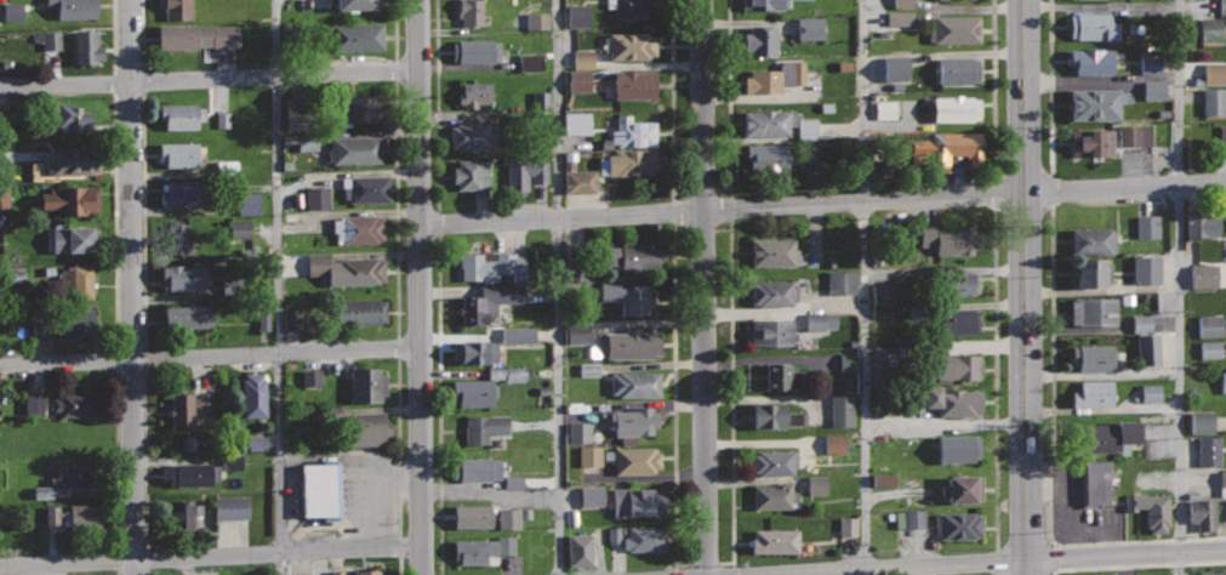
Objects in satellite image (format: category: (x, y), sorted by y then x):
building: (359, 4)
building: (762, 4)
building: (902, 4)
building: (1222, 6)
building: (177, 7)
building: (632, 7)
building: (76, 8)
building: (471, 11)
building: (12, 12)
building: (577, 16)
building: (900, 18)
building: (536, 22)
building: (1093, 25)
building: (956, 28)
road: (394, 29)
building: (810, 29)
building: (1210, 29)
road: (141, 34)
building: (199, 34)
road: (113, 35)
building: (358, 35)
building: (47, 40)
building: (762, 40)
building: (629, 45)
building: (87, 46)
building: (477, 50)
building: (582, 59)
building: (1093, 59)
building: (530, 62)
building: (1150, 64)
building: (895, 69)
building: (959, 70)
building: (1214, 73)
building: (776, 76)
road: (207, 79)
building: (578, 81)
building: (635, 84)
road: (1050, 86)
road: (991, 87)
building: (1153, 90)
building: (474, 93)
road: (729, 97)
road: (671, 99)
building: (541, 101)
building: (1214, 102)
building: (1095, 104)
road: (437, 106)
building: (357, 107)
building: (957, 108)
building: (300, 109)
building: (885, 110)
building: (179, 114)
building: (73, 118)
building: (222, 120)
building: (777, 123)
building: (576, 124)
building: (633, 132)
building: (1222, 135)
building: (473, 136)
building: (1133, 136)
building: (1090, 142)
building: (307, 143)
building: (355, 148)
building: (952, 149)
building: (179, 152)
building: (768, 156)
building: (74, 159)
building: (628, 161)
building: (226, 167)
building: (472, 173)
building: (525, 175)
building: (578, 182)
building: (366, 188)
building: (186, 193)
building: (4, 198)
building: (317, 198)
building: (73, 199)
road: (821, 203)
building: (247, 204)
road: (394, 207)
road: (115, 220)
road: (144, 220)
building: (1147, 227)
building: (1202, 227)
building: (358, 228)
building: (239, 230)
building: (175, 237)
building: (73, 238)
building: (950, 239)
building: (1093, 240)
building: (775, 252)
building: (634, 256)
building: (492, 264)
building: (346, 268)
building: (1146, 269)
building: (1093, 272)
building: (13, 274)
building: (182, 275)
road: (280, 275)
building: (1203, 277)
building: (76, 280)
building: (963, 281)
building: (840, 283)
road: (129, 286)
road: (417, 286)
road: (867, 286)
road: (1026, 286)
road: (559, 287)
road: (705, 287)
road: (1179, 287)
building: (774, 291)
building: (883, 294)
building: (625, 296)
building: (489, 301)
building: (1094, 311)
building: (358, 312)
building: (187, 318)
building: (291, 320)
building: (960, 320)
building: (262, 321)
building: (821, 321)
building: (80, 323)
building: (1141, 324)
building: (1209, 326)
building: (39, 328)
building: (772, 331)
building: (577, 334)
building: (518, 335)
building: (632, 343)
building: (1210, 349)
building: (477, 351)
building: (1148, 351)
road: (209, 355)
building: (1095, 358)
building: (849, 363)
building: (958, 368)
building: (589, 370)
building: (507, 374)
building: (783, 376)
building: (310, 377)
road: (996, 377)
building: (1224, 382)
building: (366, 383)
building: (635, 383)
building: (474, 391)
building: (255, 393)
building: (1094, 393)
building: (1151, 393)
road: (731, 397)
road: (674, 398)
building: (953, 399)
building: (75, 403)
building: (34, 404)
building: (188, 405)
road: (439, 405)
building: (842, 411)
building: (777, 416)
building: (634, 421)
building: (350, 423)
building: (1202, 423)
building: (485, 426)
building: (578, 433)
building: (1108, 435)
building: (80, 437)
building: (256, 443)
building: (834, 444)
road: (398, 446)
building: (959, 449)
building: (1208, 451)
building: (589, 456)
road: (116, 459)
road: (146, 459)
building: (637, 459)
building: (775, 461)
road: (1049, 461)
building: (233, 463)
building: (480, 467)
building: (194, 473)
building: (76, 477)
building: (883, 480)
building: (513, 482)
building: (1095, 483)
building: (1222, 483)
building: (816, 485)
building: (321, 488)
building: (963, 488)
building: (41, 493)
building: (775, 495)
building: (591, 497)
building: (640, 500)
building: (1151, 507)
building: (230, 508)
building: (1203, 513)
building: (181, 514)
building: (472, 514)
building: (82, 516)
building: (508, 519)
building: (908, 519)
building: (958, 524)
building: (848, 526)
building: (614, 535)
building: (645, 539)
building: (775, 541)
building: (483, 550)
building: (578, 551)
road: (209, 556)
road: (118, 562)
road: (147, 562)
road: (1008, 562)
road: (281, 563)
road: (399, 565)
road: (1137, 567)
building: (338, 571)
building: (367, 573)
building: (1210, 573)
building: (306, 574)

